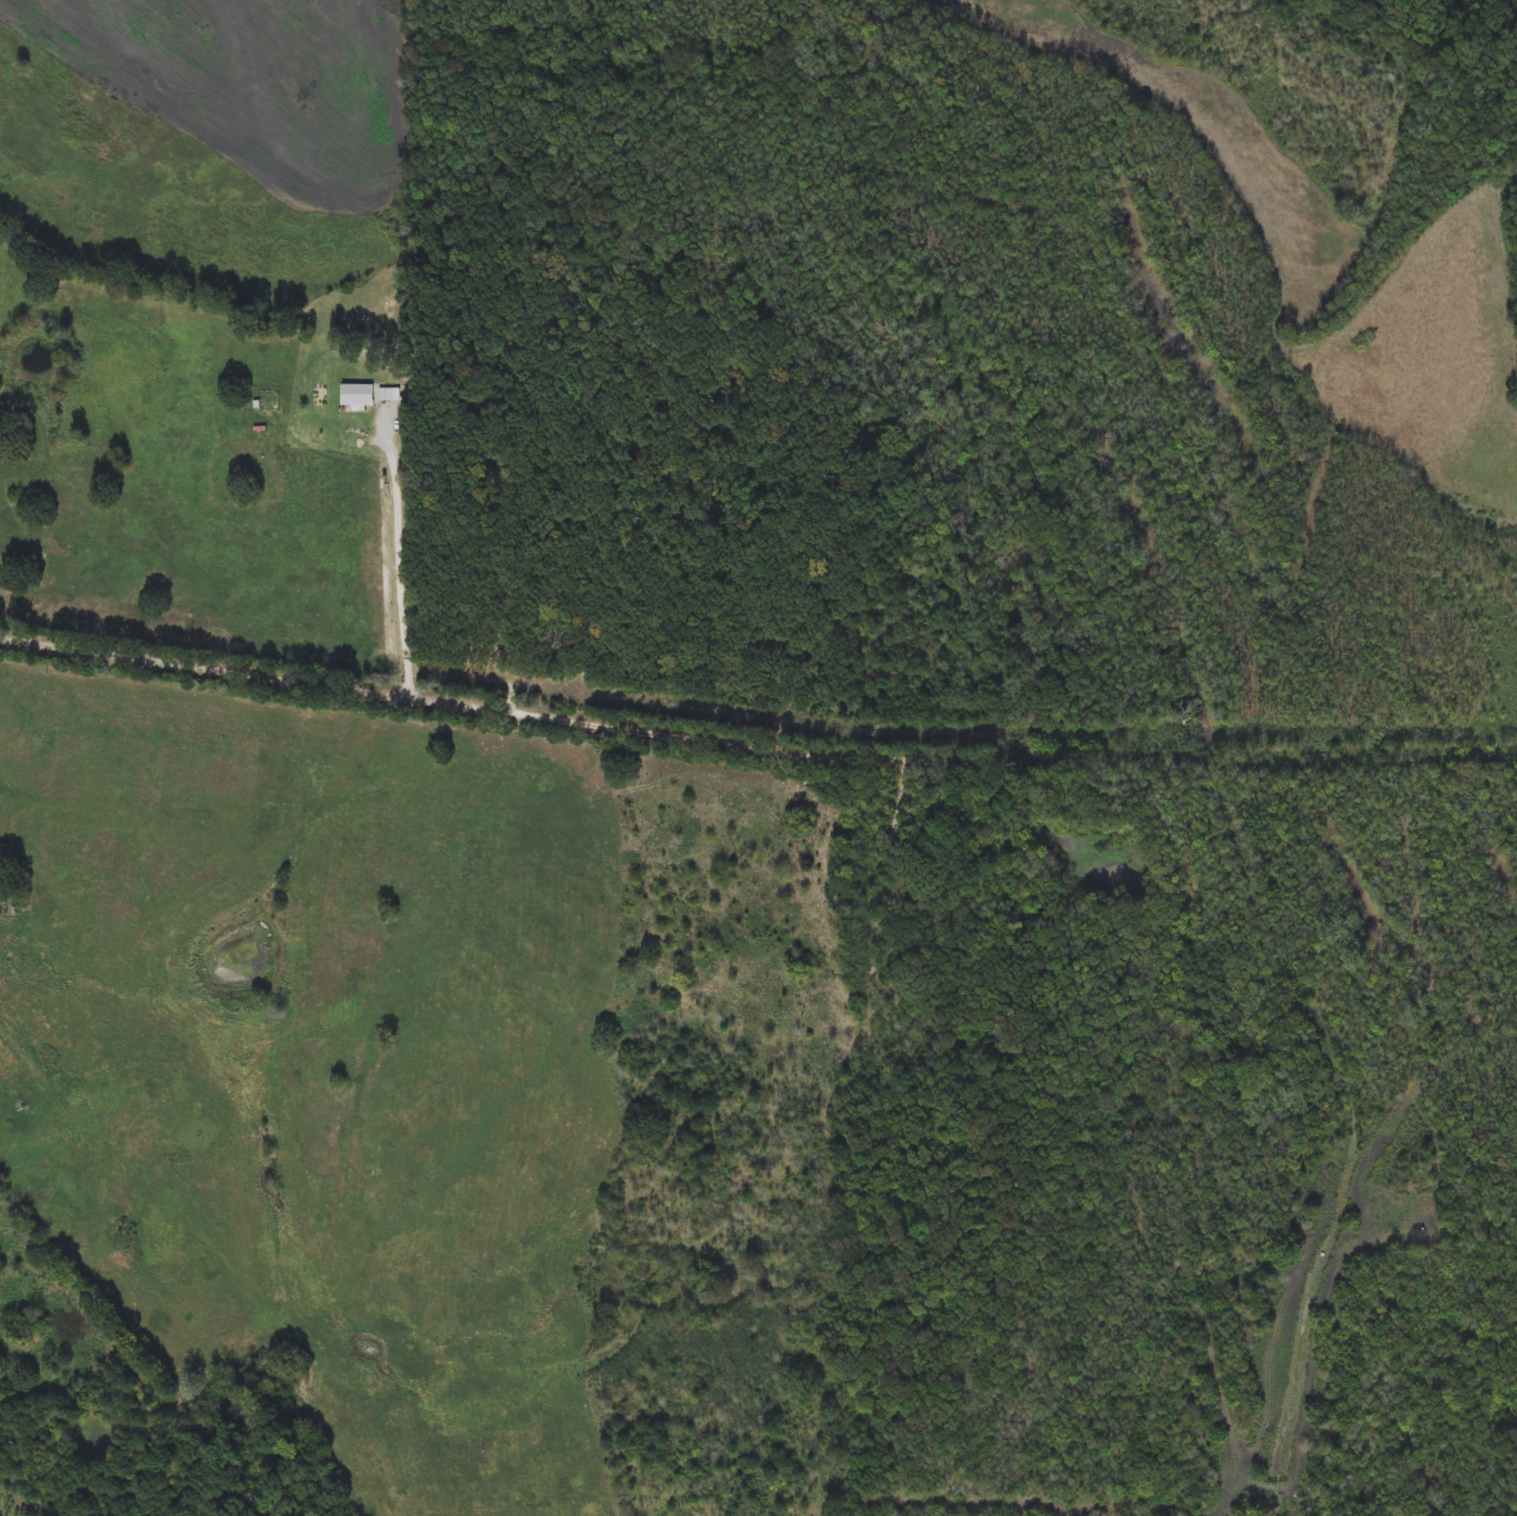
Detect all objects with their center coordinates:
building: (357, 396)
road: (403, 552)
building: (511, 650)
road: (491, 705)
road: (1251, 750)
road: (155, 1202)

